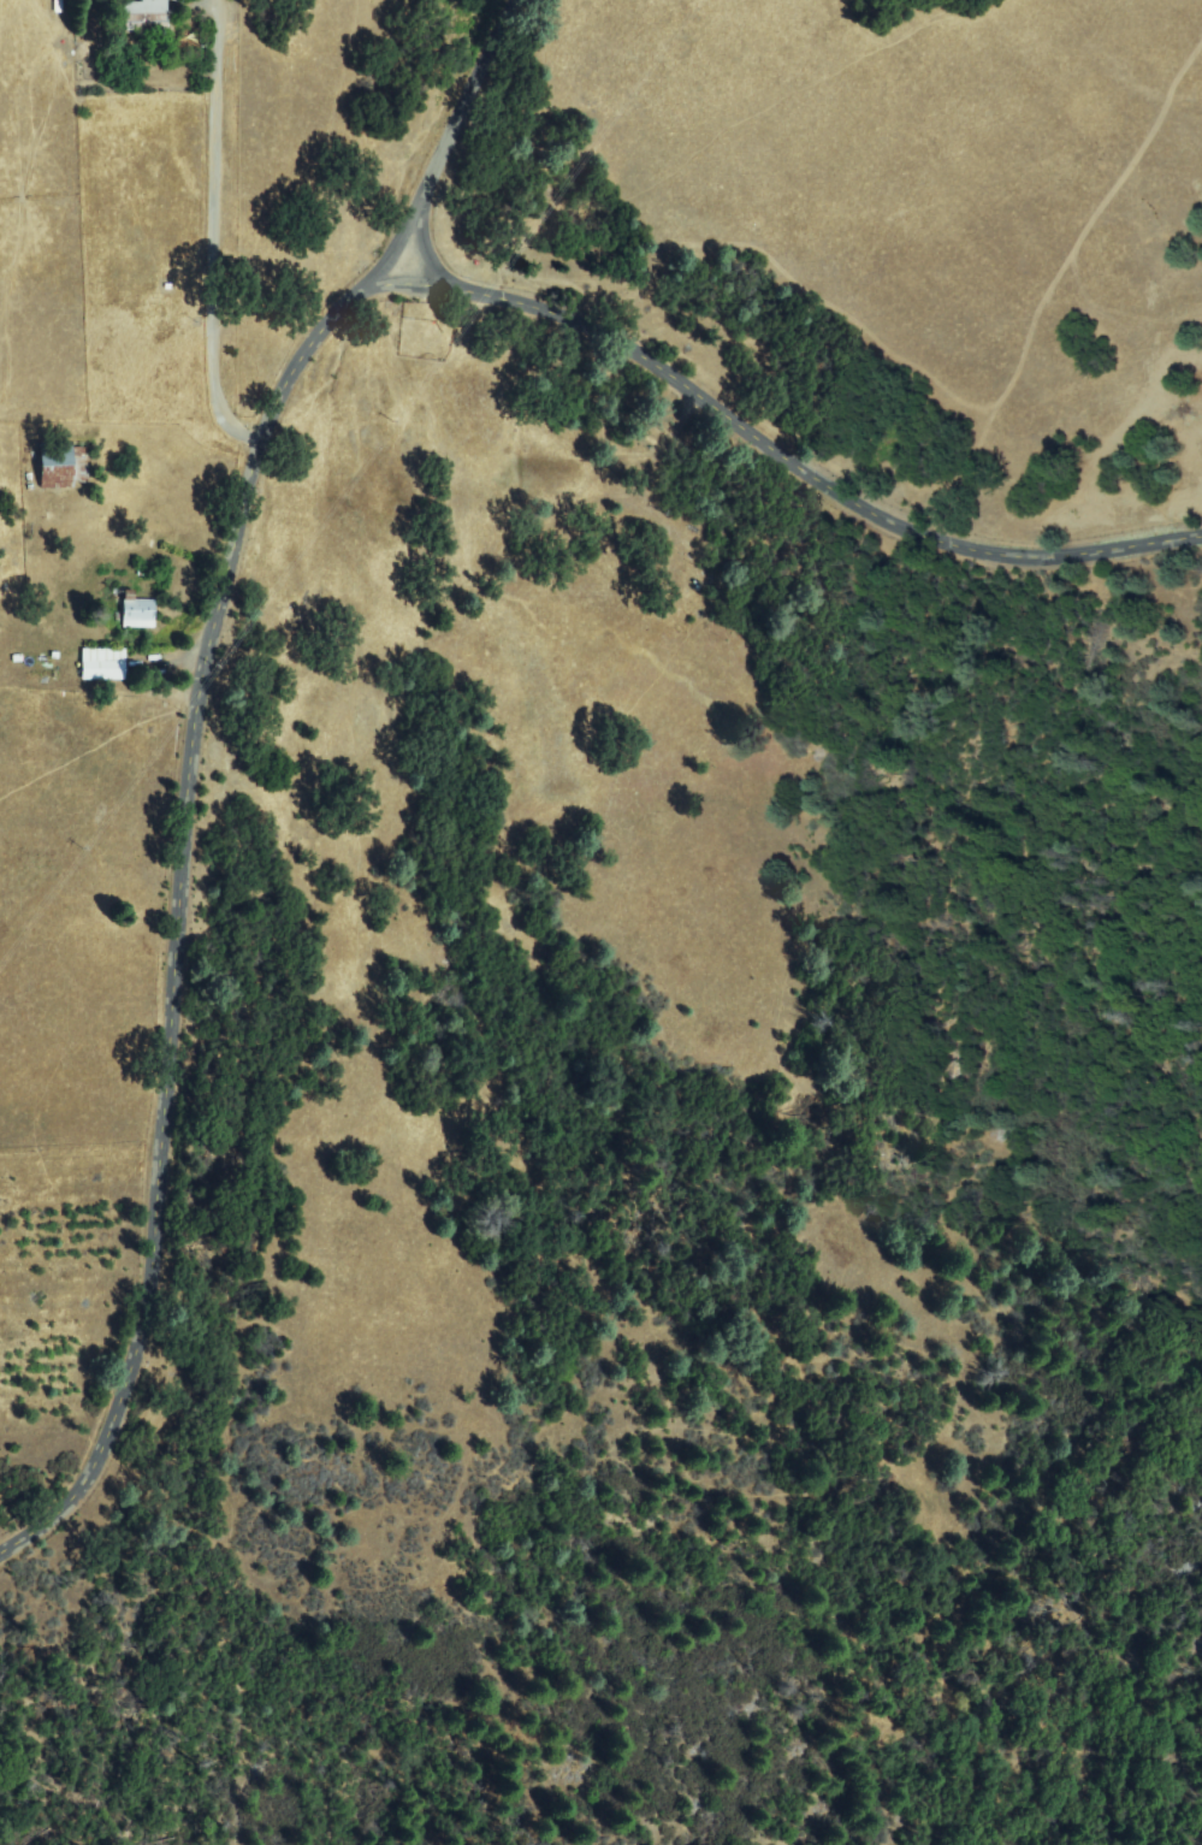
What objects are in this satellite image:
building: (148, 17)
road: (219, 224)
road: (776, 447)
building: (61, 466)
building: (138, 611)
building: (103, 666)
road: (184, 759)

